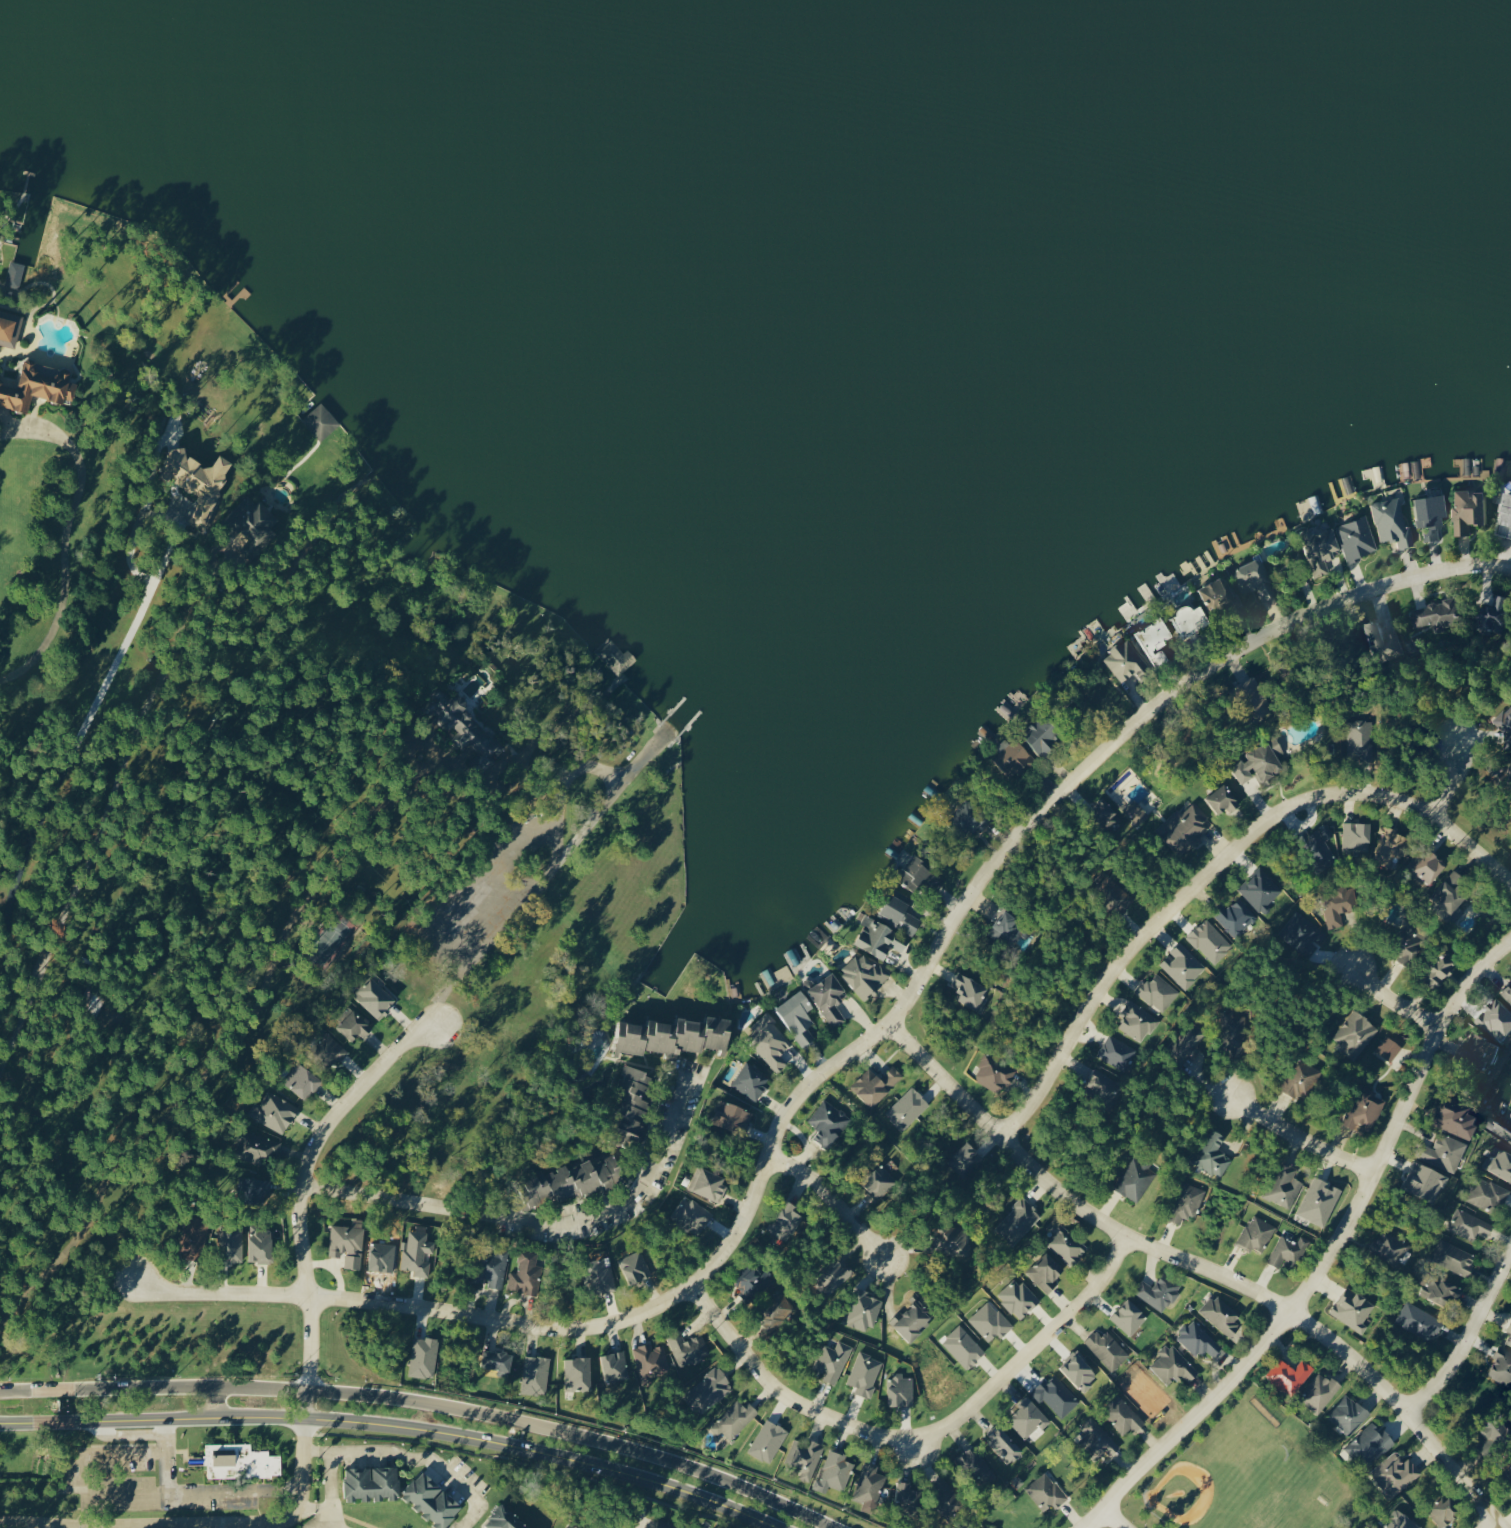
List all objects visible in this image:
building: (15, 274)
building: (10, 328)
building: (0, 372)
building: (37, 386)
building: (321, 421)
building: (199, 480)
building: (1471, 510)
building: (1432, 515)
building: (251, 516)
building: (1505, 520)
building: (1392, 521)
road: (71, 535)
building: (1357, 538)
building: (1321, 549)
building: (1255, 579)
building: (1220, 595)
building: (1443, 613)
building: (1499, 614)
building: (1192, 620)
building: (1154, 637)
building: (1390, 643)
building: (1125, 661)
building: (1256, 698)
building: (1503, 723)
building: (464, 726)
building: (1043, 735)
building: (1359, 738)
building: (1014, 759)
building: (1263, 763)
road: (1456, 771)
building: (1224, 800)
building: (1109, 813)
building: (971, 816)
building: (1184, 829)
building: (1327, 832)
building: (1357, 836)
building: (1391, 843)
building: (1320, 850)
road: (1213, 863)
building: (1427, 866)
building: (918, 873)
road: (538, 881)
building: (1261, 891)
building: (1116, 892)
building: (1452, 893)
parking lot: (481, 904)
building: (1339, 905)
building: (900, 911)
building: (1240, 914)
building: (1012, 927)
building: (878, 937)
building: (1410, 946)
building: (1182, 965)
building: (1441, 970)
building: (865, 974)
building: (970, 990)
building: (1508, 992)
building: (1152, 993)
building: (375, 996)
road: (1390, 997)
building: (830, 998)
building: (797, 1015)
building: (1132, 1020)
building: (1499, 1020)
building: (353, 1023)
building: (1227, 1032)
building: (676, 1034)
building: (1356, 1034)
building: (770, 1039)
building: (1189, 1039)
building: (327, 1046)
building: (1388, 1048)
building: (1483, 1049)
building: (1116, 1051)
road: (847, 1055)
building: (994, 1073)
building: (1301, 1078)
building: (302, 1079)
building: (751, 1081)
road: (945, 1083)
building: (876, 1084)
building: (1102, 1084)
building: (635, 1095)
building: (907, 1108)
building: (1365, 1110)
building: (274, 1111)
building: (732, 1114)
building: (1456, 1117)
building: (829, 1121)
building: (1501, 1123)
road: (1299, 1136)
building: (256, 1147)
building: (1443, 1151)
building: (1214, 1154)
building: (963, 1158)
road: (1019, 1161)
building: (1500, 1161)
building: (574, 1179)
building: (880, 1179)
building: (1136, 1179)
building: (1425, 1180)
building: (708, 1182)
building: (1285, 1184)
road: (299, 1193)
building: (1487, 1194)
road: (840, 1200)
building: (1319, 1201)
building: (1187, 1202)
building: (693, 1214)
building: (790, 1216)
building: (1017, 1221)
road: (537, 1223)
building: (1469, 1224)
road: (1123, 1234)
building: (1257, 1234)
building: (193, 1236)
building: (952, 1240)
building: (231, 1241)
building: (1066, 1243)
building: (260, 1244)
building: (348, 1244)
building: (1389, 1246)
building: (1287, 1250)
building: (418, 1252)
road: (1329, 1254)
building: (1454, 1257)
building: (492, 1266)
building: (635, 1267)
building: (1048, 1269)
building: (526, 1273)
building: (832, 1274)
building: (601, 1275)
building: (753, 1279)
building: (1159, 1291)
building: (1441, 1291)
building: (1353, 1308)
building: (776, 1309)
building: (864, 1310)
building: (1221, 1315)
building: (913, 1316)
building: (1130, 1317)
building: (1419, 1321)
building: (1509, 1327)
road: (1317, 1333)
road: (1467, 1336)
building: (1198, 1339)
building: (1509, 1340)
building: (963, 1347)
building: (688, 1348)
building: (1107, 1350)
building: (424, 1357)
building: (650, 1359)
building: (500, 1360)
building: (833, 1360)
building: (1174, 1364)
building: (1502, 1367)
building: (578, 1372)
building: (865, 1374)
building: (535, 1375)
building: (1291, 1375)
building: (709, 1390)
building: (900, 1390)
building: (1320, 1392)
road: (214, 1402)
road: (423, 1404)
building: (1348, 1414)
building: (1122, 1415)
building: (734, 1418)
road: (395, 1426)
road: (165, 1428)
building: (1495, 1436)
road: (922, 1437)
building: (1099, 1438)
building: (1373, 1443)
building: (1005, 1445)
building: (805, 1456)
road: (413, 1458)
building: (222, 1460)
building: (264, 1463)
building: (976, 1465)
road: (1453, 1469)
building: (836, 1470)
building: (1395, 1473)
park: (1231, 1478)
building: (373, 1482)
building: (869, 1484)
road: (173, 1487)
building: (1046, 1492)
building: (908, 1494)
building: (946, 1495)
road: (330, 1496)
building: (434, 1499)
building: (1445, 1510)
building: (506, 1518)
road: (1113, 1518)
building: (1401, 1521)
road: (196, 1524)
building: (668, 1525)
road: (1490, 1525)
building: (983, 1526)

